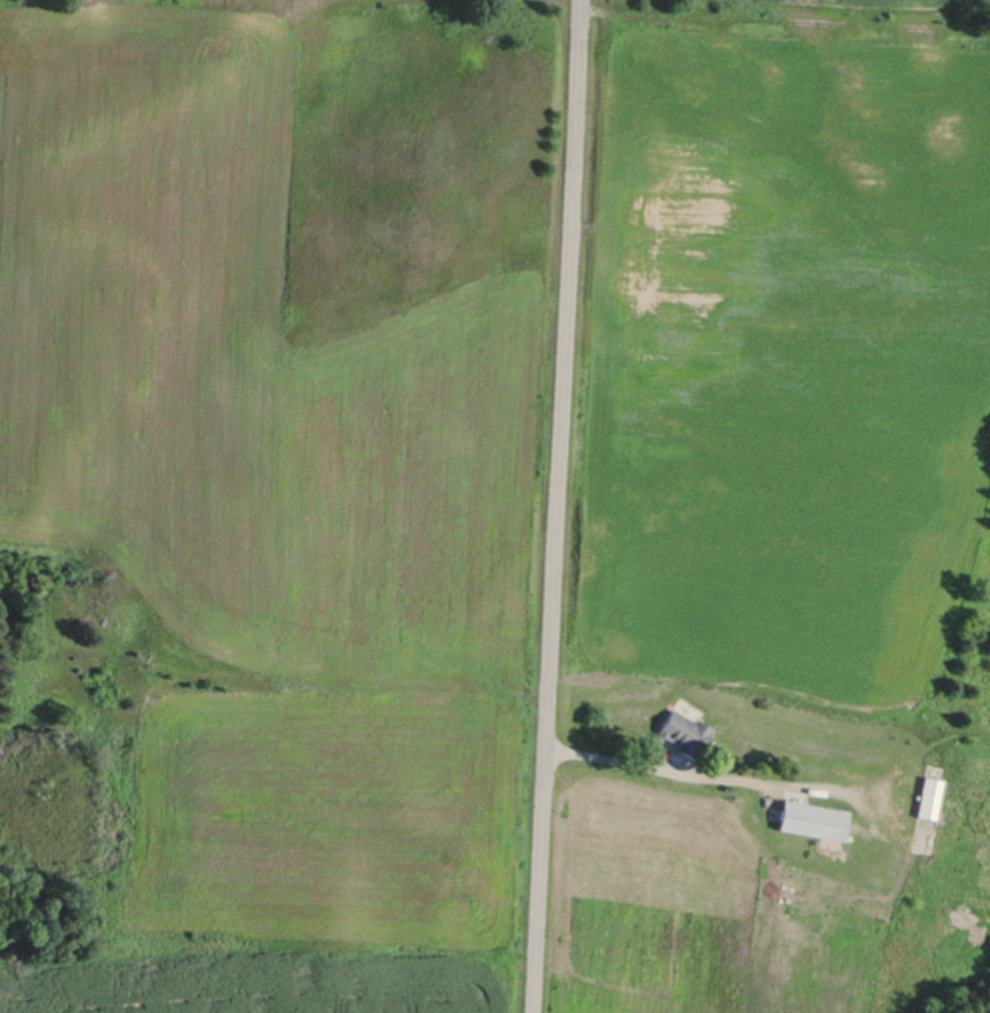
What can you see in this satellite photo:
road: (557, 506)
building: (684, 730)
building: (917, 784)
building: (812, 817)

